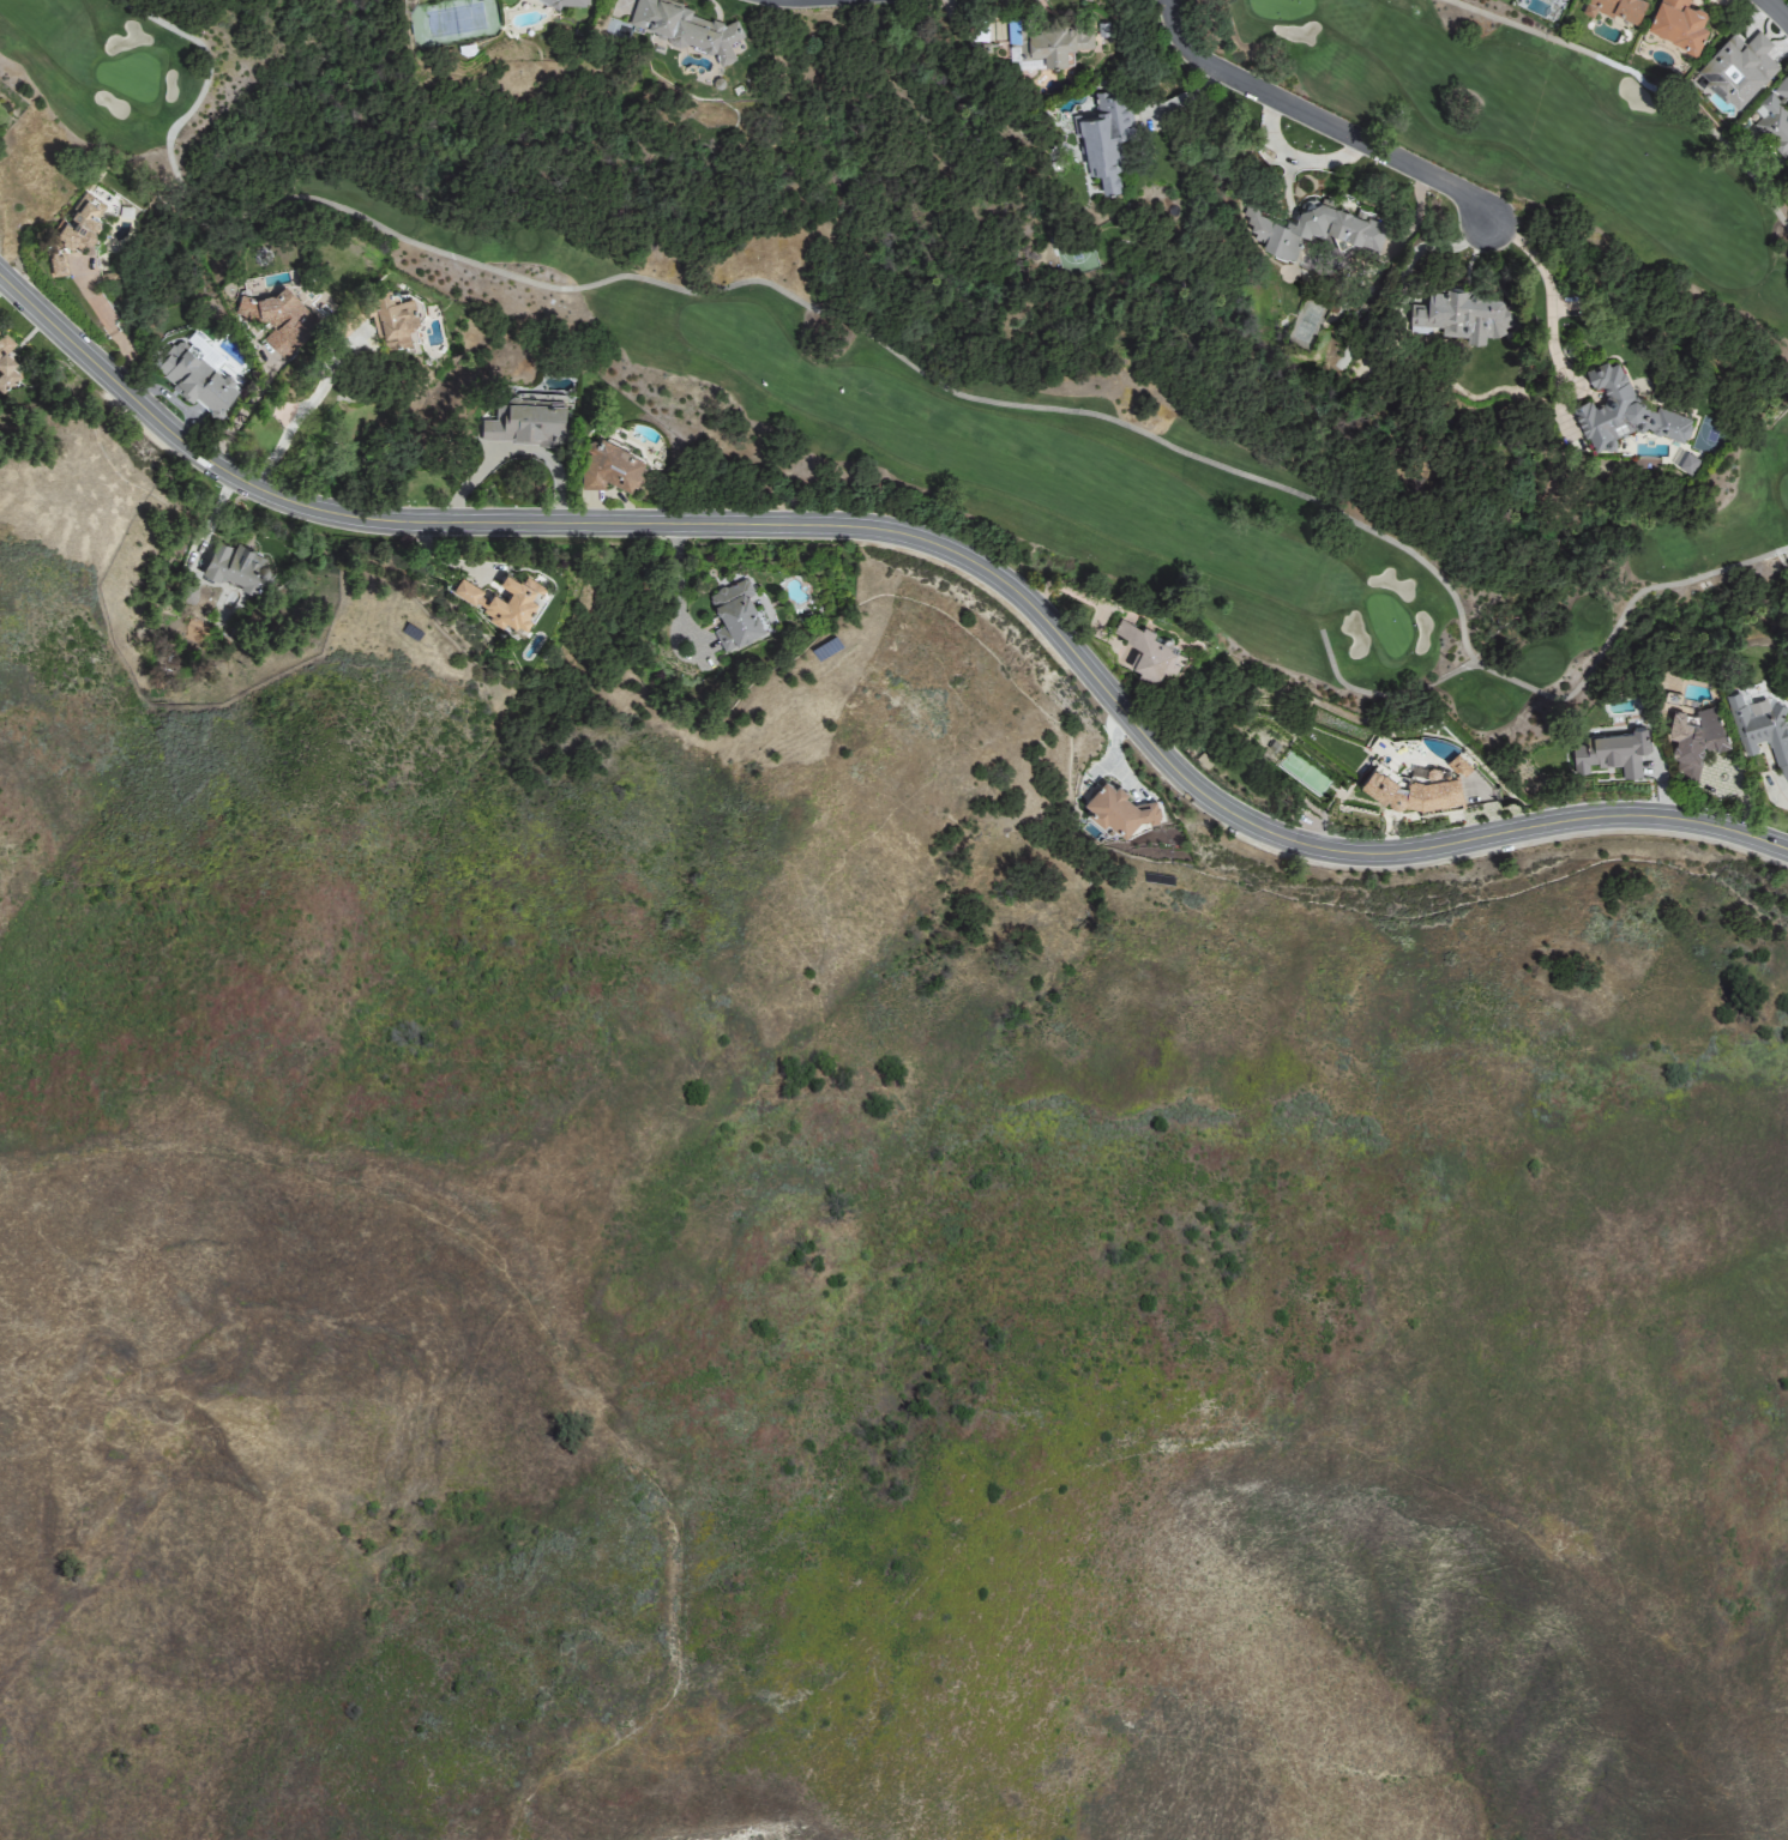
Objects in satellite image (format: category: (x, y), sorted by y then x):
building: (565, 1)
building: (1615, 8)
road: (1778, 8)
building: (1678, 23)
building: (680, 25)
building: (987, 34)
building: (1050, 43)
building: (1739, 67)
road: (1643, 82)
building: (1774, 116)
road: (1317, 120)
building: (1106, 138)
building: (1312, 229)
building: (74, 235)
road: (1541, 277)
road: (755, 282)
building: (1461, 314)
park: (1019, 315)
building: (392, 320)
building: (300, 321)
building: (6, 366)
building: (195, 380)
road: (302, 410)
building: (1623, 412)
building: (525, 424)
building: (610, 467)
road: (913, 538)
building: (235, 567)
road: (678, 584)
building: (482, 601)
building: (735, 615)
building: (1148, 651)
road: (1560, 698)
building: (1762, 726)
building: (1691, 735)
building: (1612, 753)
building: (1409, 790)
building: (1119, 809)

